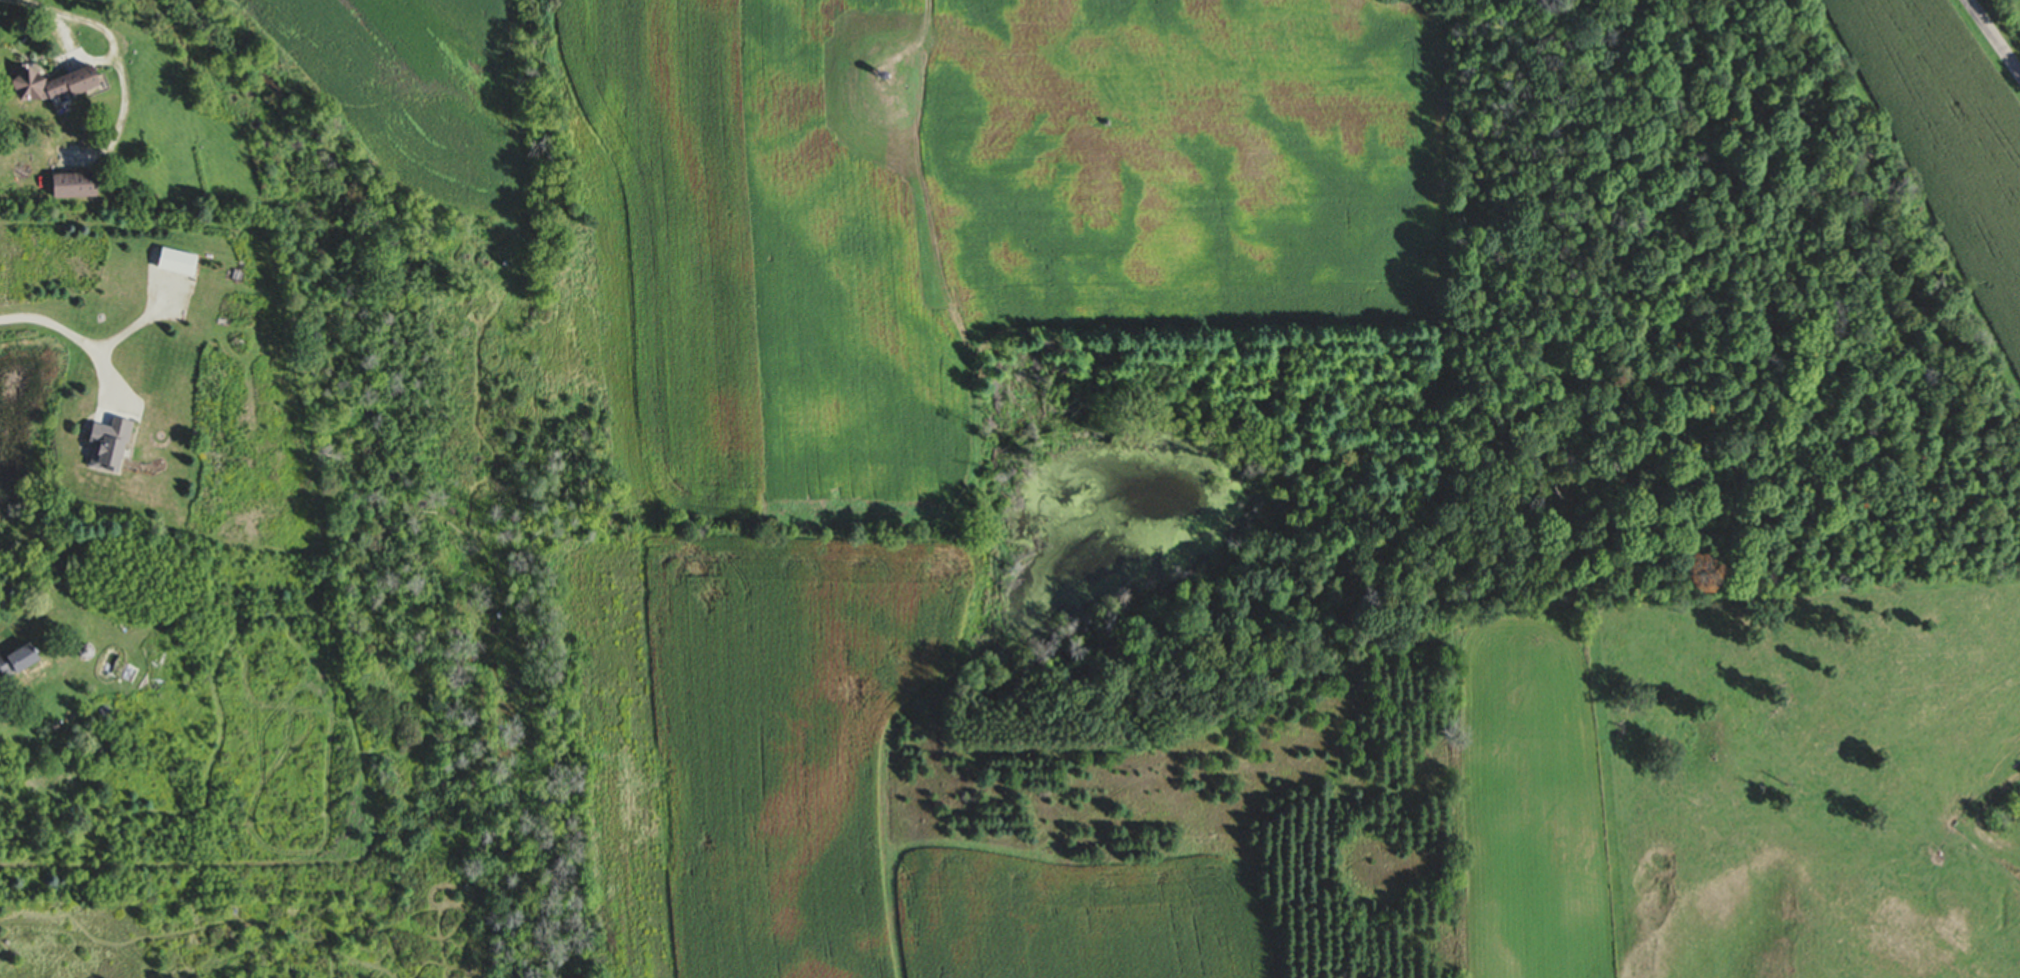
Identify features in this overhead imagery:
road: (41, 5)
road: (1994, 36)
road: (110, 57)
building: (57, 85)
building: (79, 185)
building: (181, 262)
road: (136, 323)
road: (77, 337)
building: (115, 446)
building: (16, 660)

